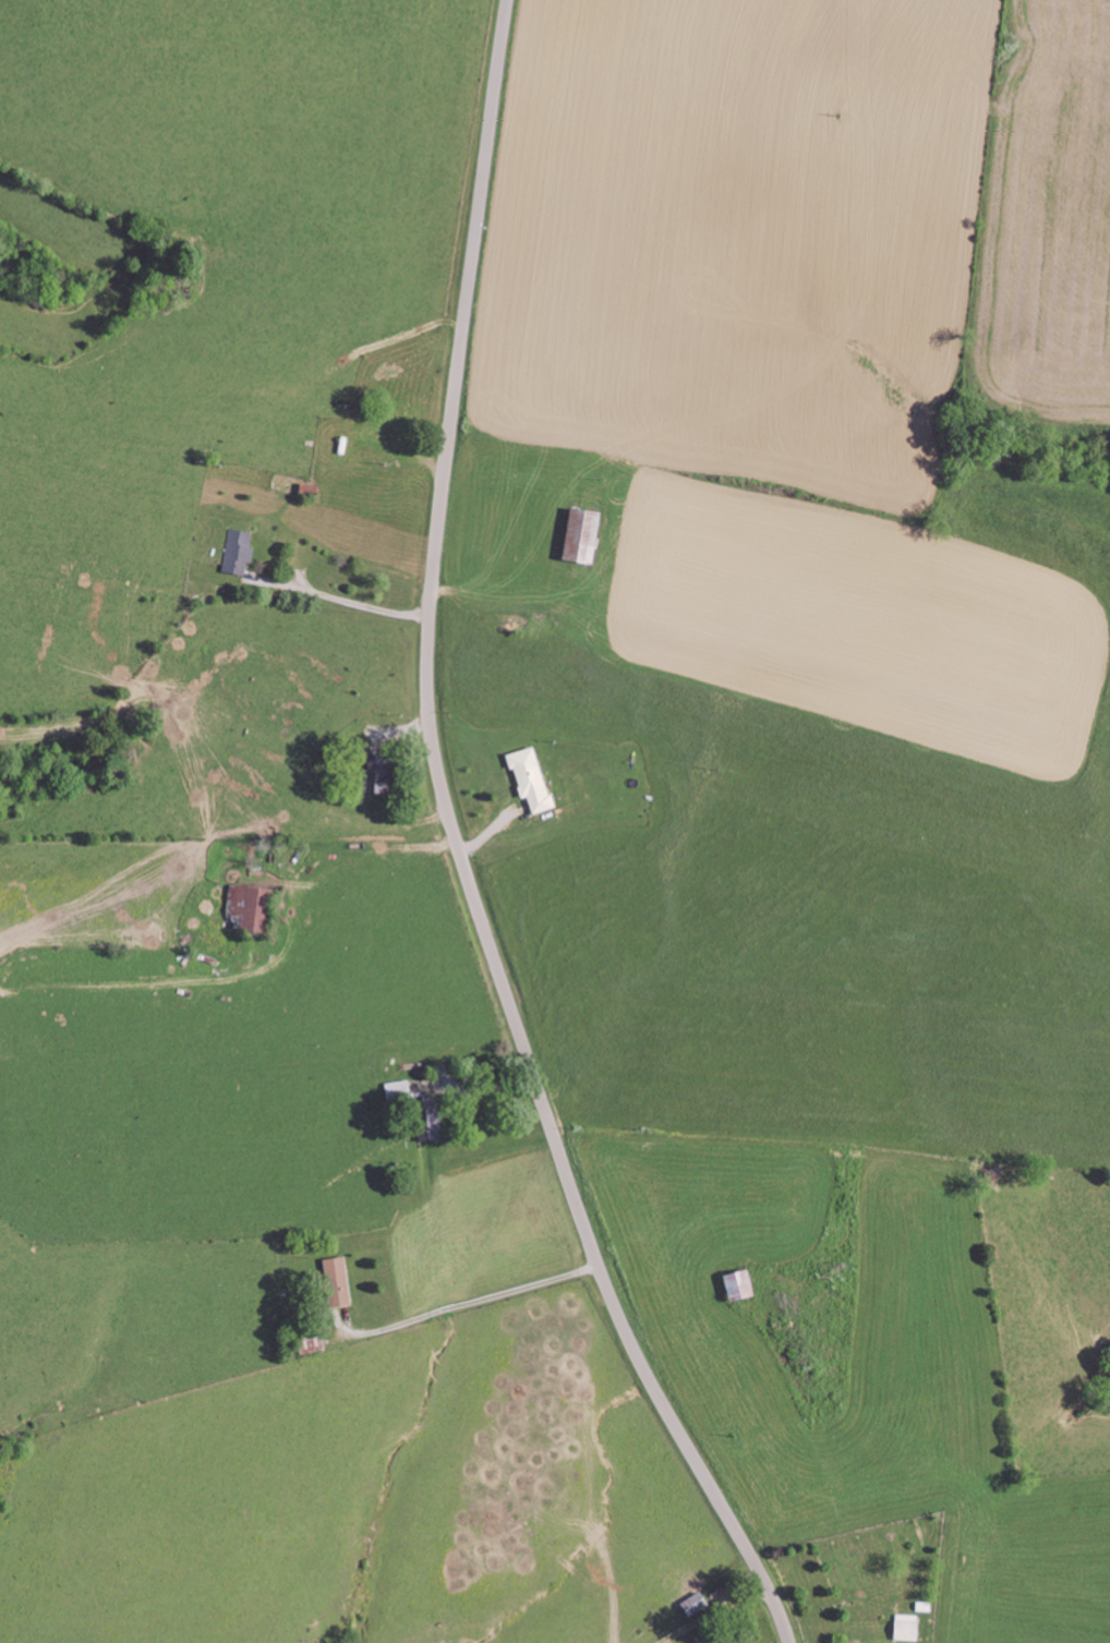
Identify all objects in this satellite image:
road: (227, 391)
building: (587, 535)
building: (238, 552)
building: (533, 778)
road: (461, 851)
building: (398, 1089)
building: (743, 1284)
building: (908, 1627)

